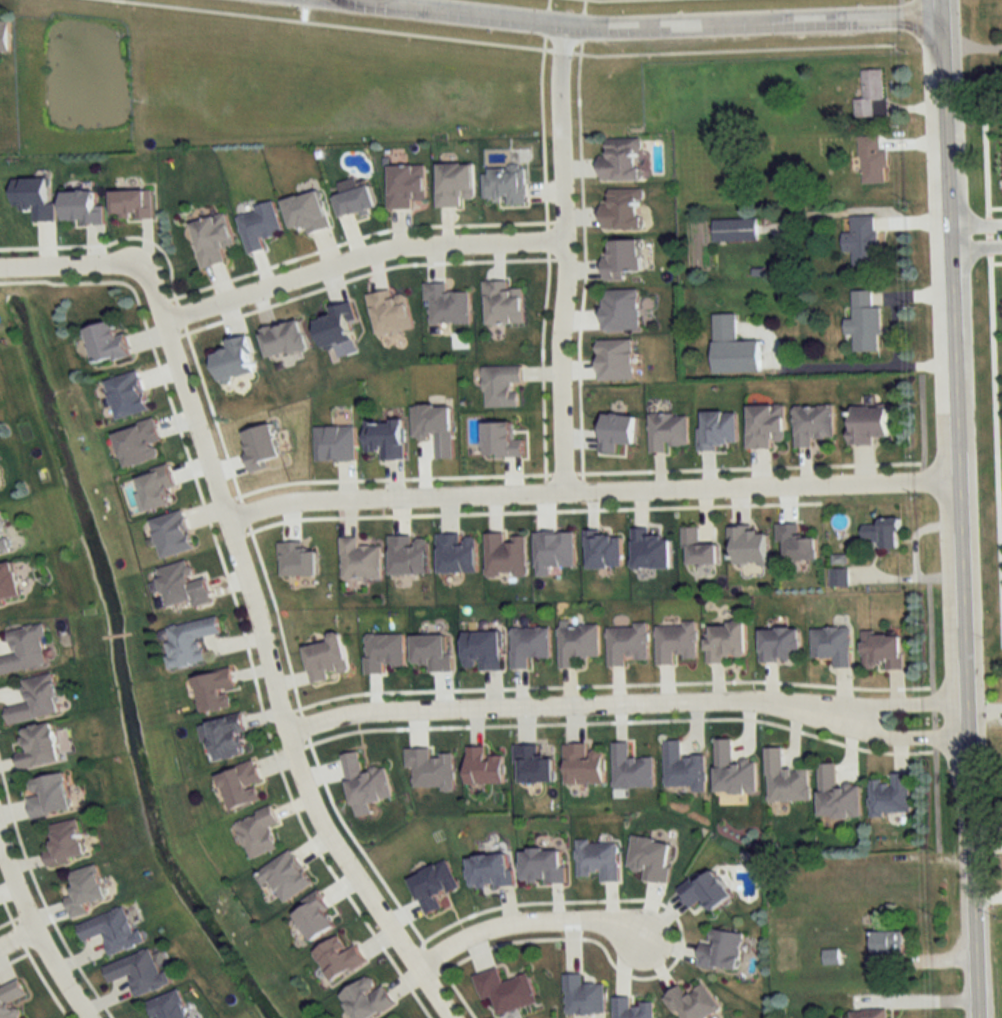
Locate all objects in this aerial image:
road: (303, 2)
road: (547, 4)
road: (582, 6)
road: (302, 13)
road: (545, 21)
road: (644, 23)
road: (580, 24)
road: (338, 25)
building: (4, 37)
road: (971, 47)
road: (731, 49)
road: (560, 51)
building: (870, 93)
road: (542, 131)
building: (620, 158)
building: (872, 160)
building: (454, 183)
building: (505, 183)
building: (405, 185)
building: (354, 200)
building: (133, 204)
building: (621, 210)
building: (307, 211)
road: (974, 224)
building: (259, 225)
building: (734, 230)
road: (355, 237)
building: (213, 238)
road: (545, 239)
building: (861, 239)
road: (112, 241)
road: (974, 246)
road: (358, 258)
road: (564, 258)
building: (622, 258)
road: (582, 259)
road: (73, 268)
road: (362, 273)
building: (502, 303)
building: (446, 304)
building: (620, 309)
building: (389, 312)
road: (181, 314)
building: (864, 322)
building: (336, 325)
road: (994, 327)
building: (284, 338)
building: (106, 342)
building: (733, 347)
building: (235, 357)
building: (614, 358)
road: (541, 365)
building: (501, 385)
building: (127, 394)
road: (213, 413)
building: (812, 423)
building: (869, 423)
building: (765, 424)
building: (435, 426)
building: (718, 428)
building: (667, 431)
building: (385, 437)
building: (138, 443)
building: (335, 443)
road: (745, 466)
road: (562, 472)
road: (390, 477)
road: (588, 492)
road: (955, 509)
road: (531, 511)
road: (244, 512)
road: (249, 527)
building: (884, 532)
building: (172, 533)
building: (3, 538)
building: (748, 546)
building: (698, 549)
building: (605, 550)
building: (650, 550)
building: (553, 551)
building: (506, 555)
building: (359, 560)
building: (839, 578)
building: (8, 583)
building: (183, 585)
road: (235, 602)
road: (278, 622)
building: (189, 641)
building: (726, 642)
building: (675, 643)
building: (577, 644)
building: (627, 644)
building: (529, 645)
building: (779, 645)
building: (831, 645)
building: (483, 649)
building: (24, 650)
building: (384, 651)
building: (882, 651)
building: (326, 658)
road: (269, 659)
road: (610, 683)
building: (213, 690)
building: (35, 700)
road: (908, 704)
road: (570, 707)
road: (617, 721)
road: (304, 725)
building: (227, 737)
road: (906, 738)
building: (38, 747)
building: (533, 765)
building: (583, 765)
building: (483, 767)
building: (683, 767)
building: (431, 768)
building: (631, 768)
building: (732, 770)
building: (784, 779)
building: (365, 781)
building: (240, 784)
building: (890, 794)
building: (47, 795)
building: (836, 795)
building: (258, 832)
building: (64, 843)
road: (358, 846)
building: (651, 858)
building: (598, 859)
building: (543, 866)
building: (490, 871)
building: (285, 876)
building: (433, 886)
building: (84, 890)
building: (707, 891)
road: (41, 900)
road: (6, 909)
building: (314, 917)
road: (7, 919)
road: (510, 922)
building: (112, 930)
road: (34, 934)
road: (17, 935)
road: (680, 935)
road: (663, 937)
road: (16, 939)
building: (883, 949)
building: (721, 951)
road: (13, 958)
building: (338, 959)
road: (428, 959)
building: (138, 972)
road: (44, 981)
building: (505, 990)
road: (456, 992)
building: (583, 996)
building: (10, 999)
building: (367, 999)
building: (691, 1003)
building: (167, 1006)
building: (632, 1009)
building: (866, 1014)

